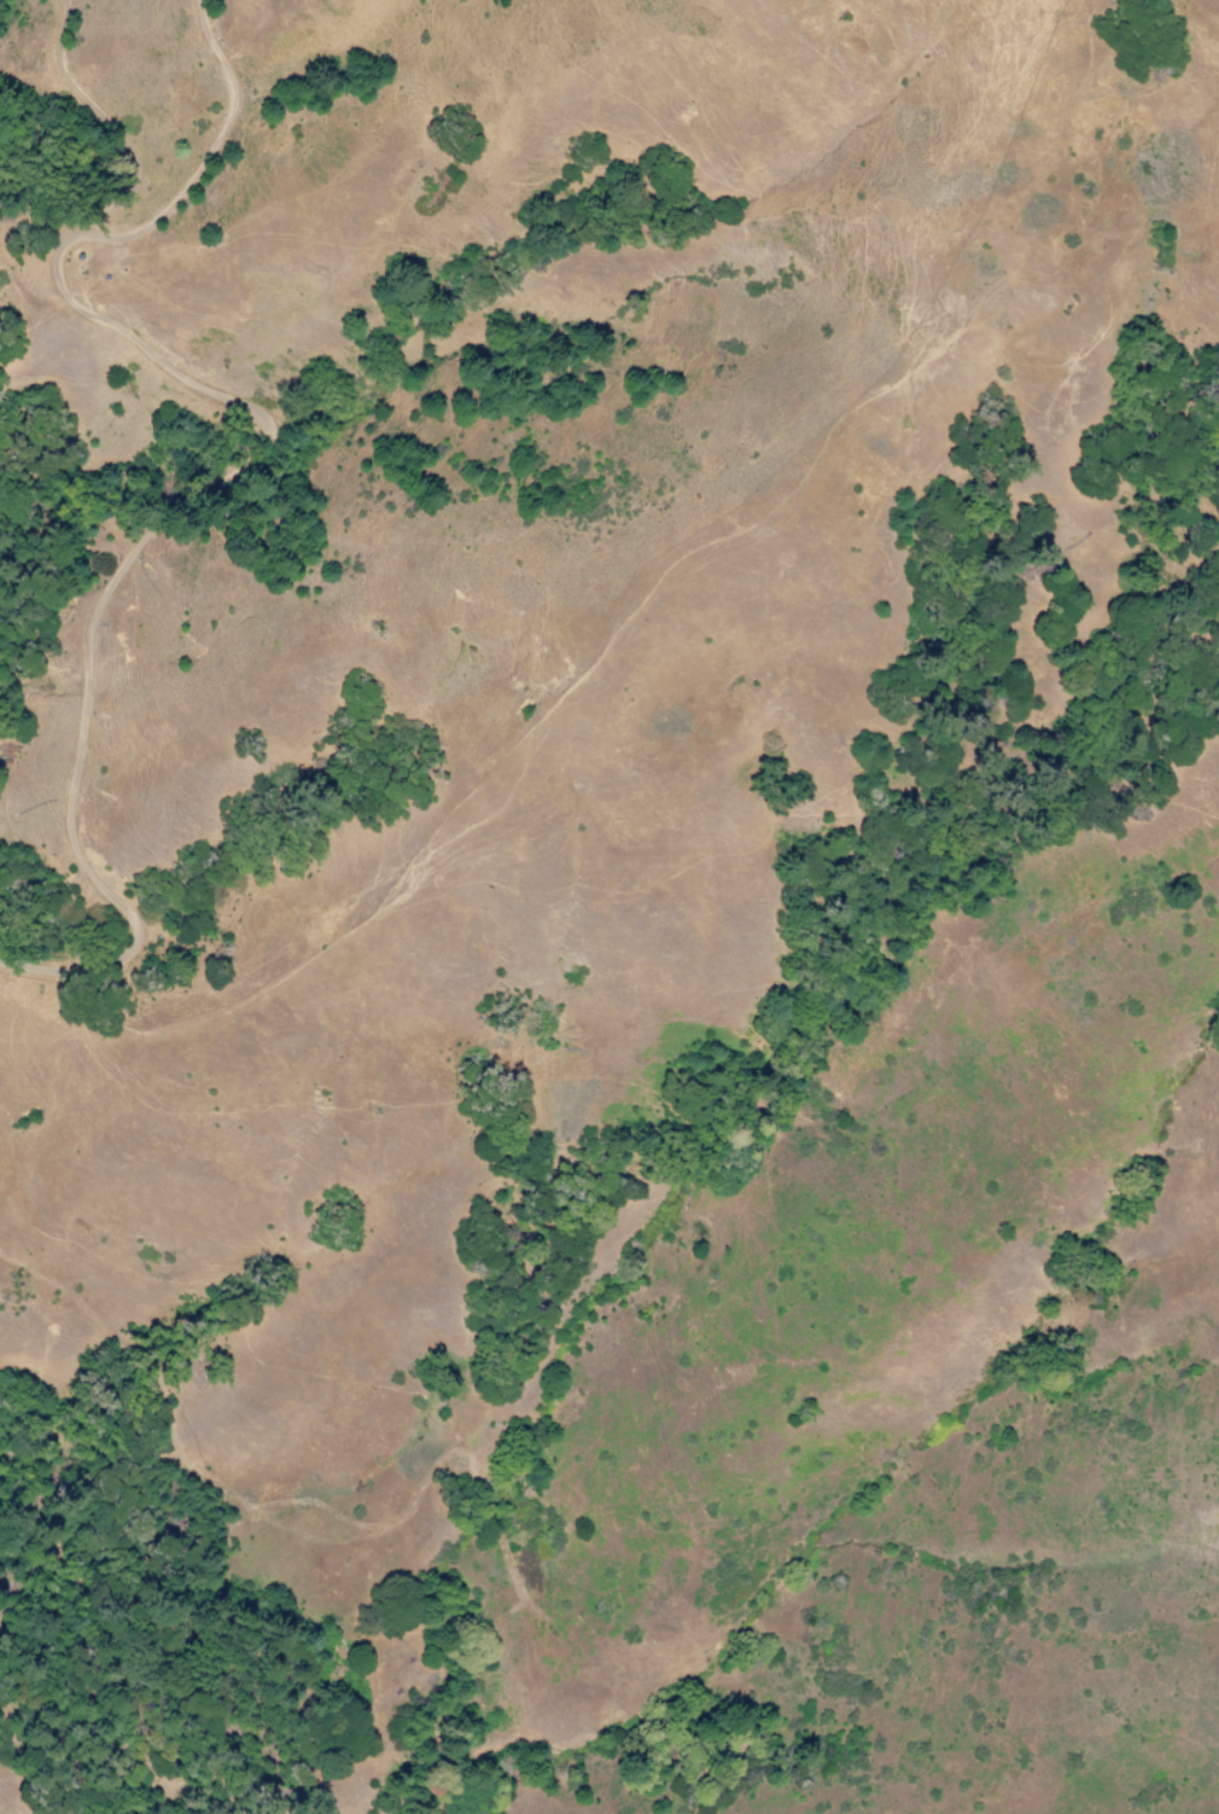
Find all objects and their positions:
road: (308, 514)

